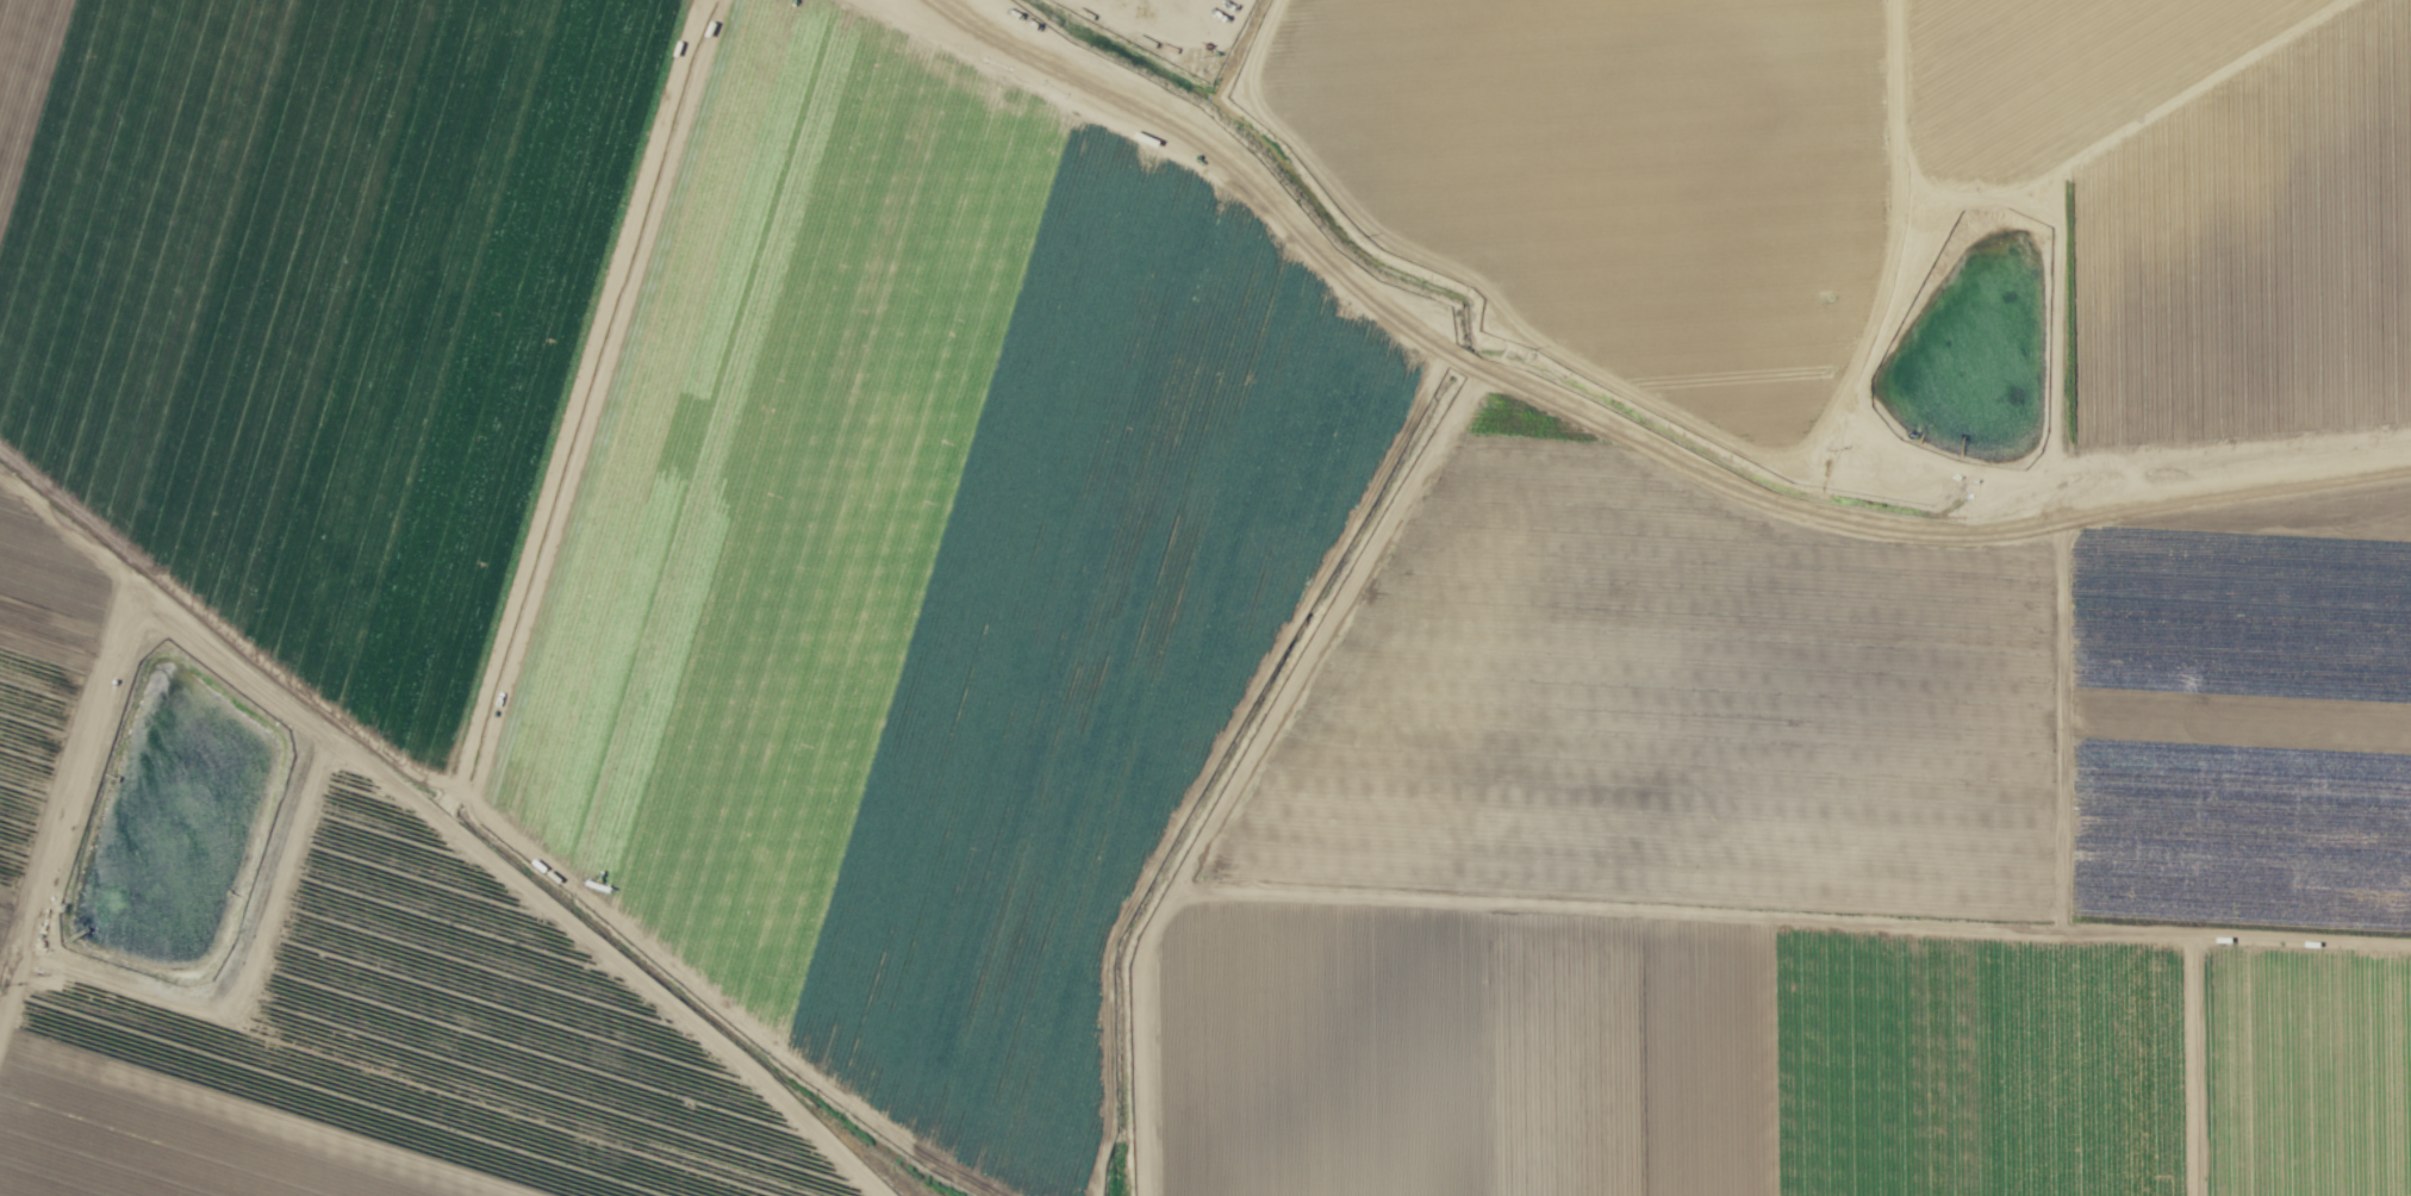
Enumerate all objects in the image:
road: (1048, 32)
road: (1622, 432)
crop: (1205, 600)
road: (225, 629)
road: (496, 673)
road: (67, 798)
wastewater plant: (176, 849)
road: (2060, 922)

